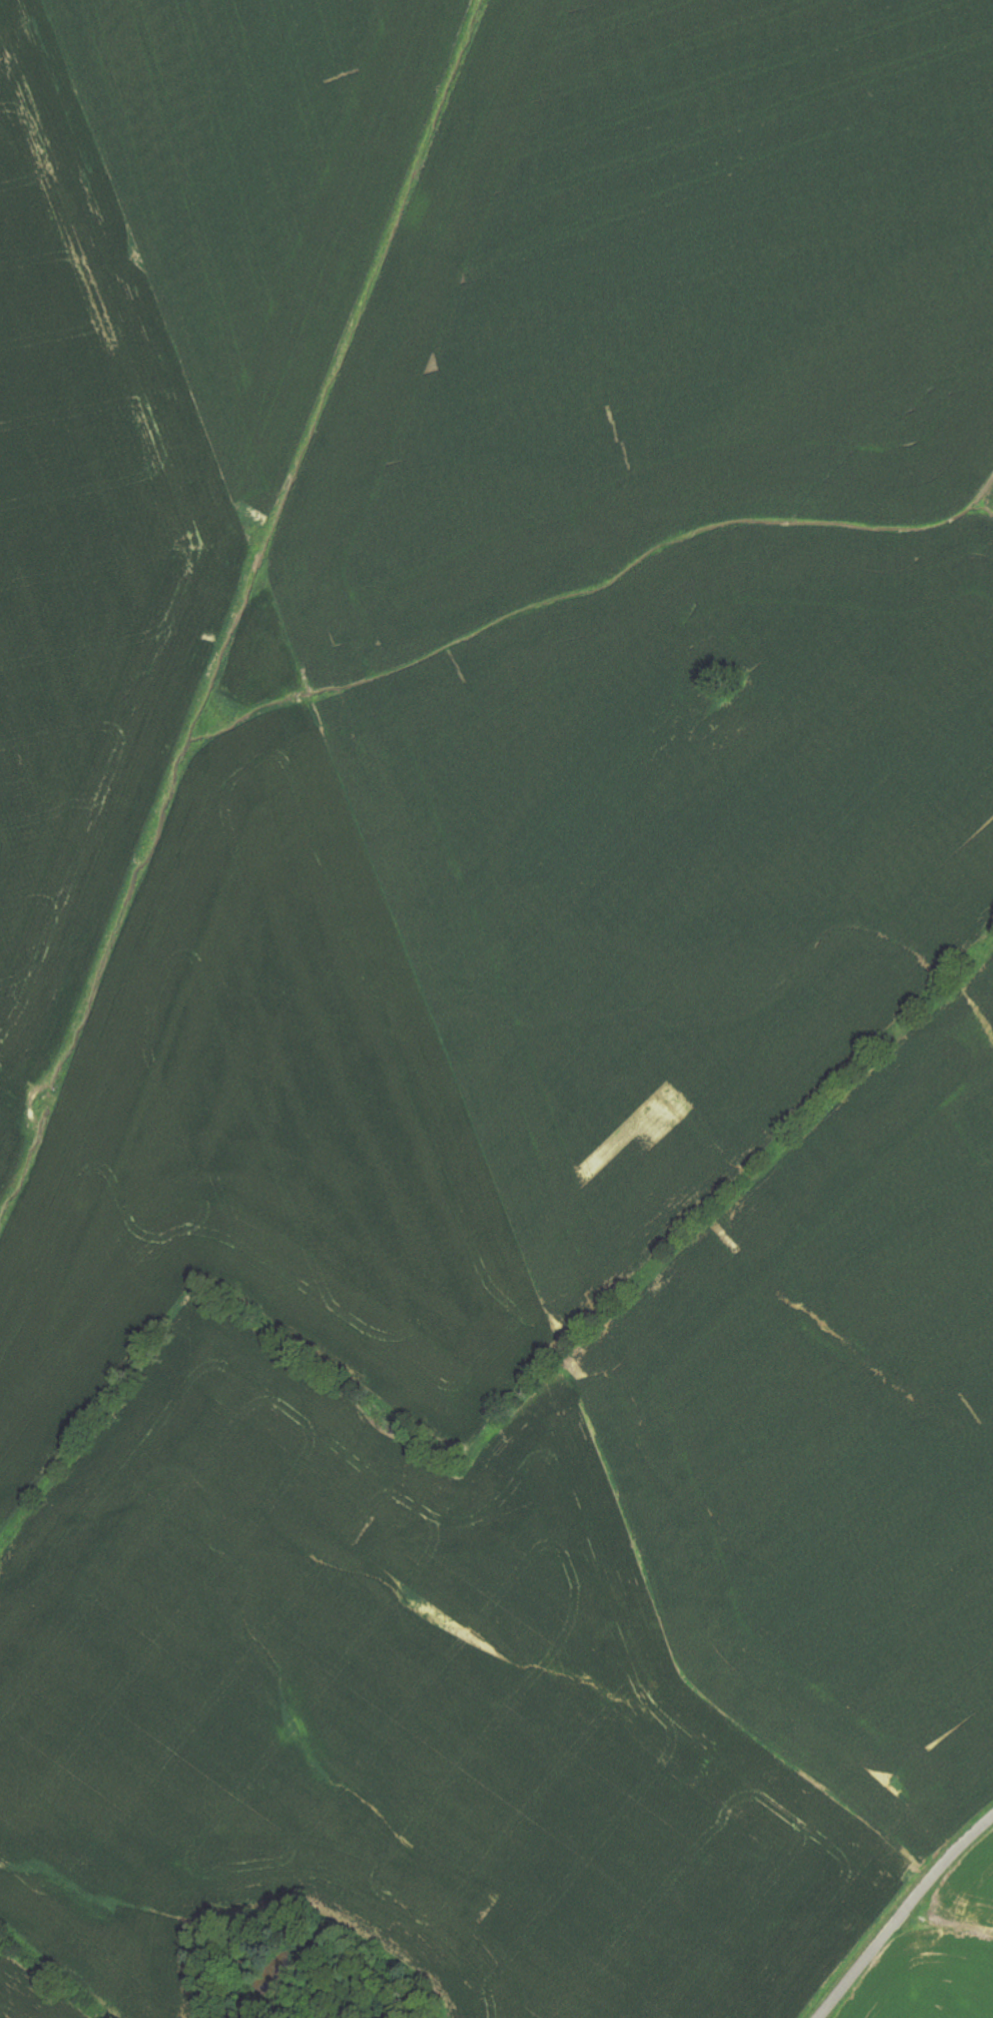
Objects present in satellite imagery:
road: (902, 1915)

